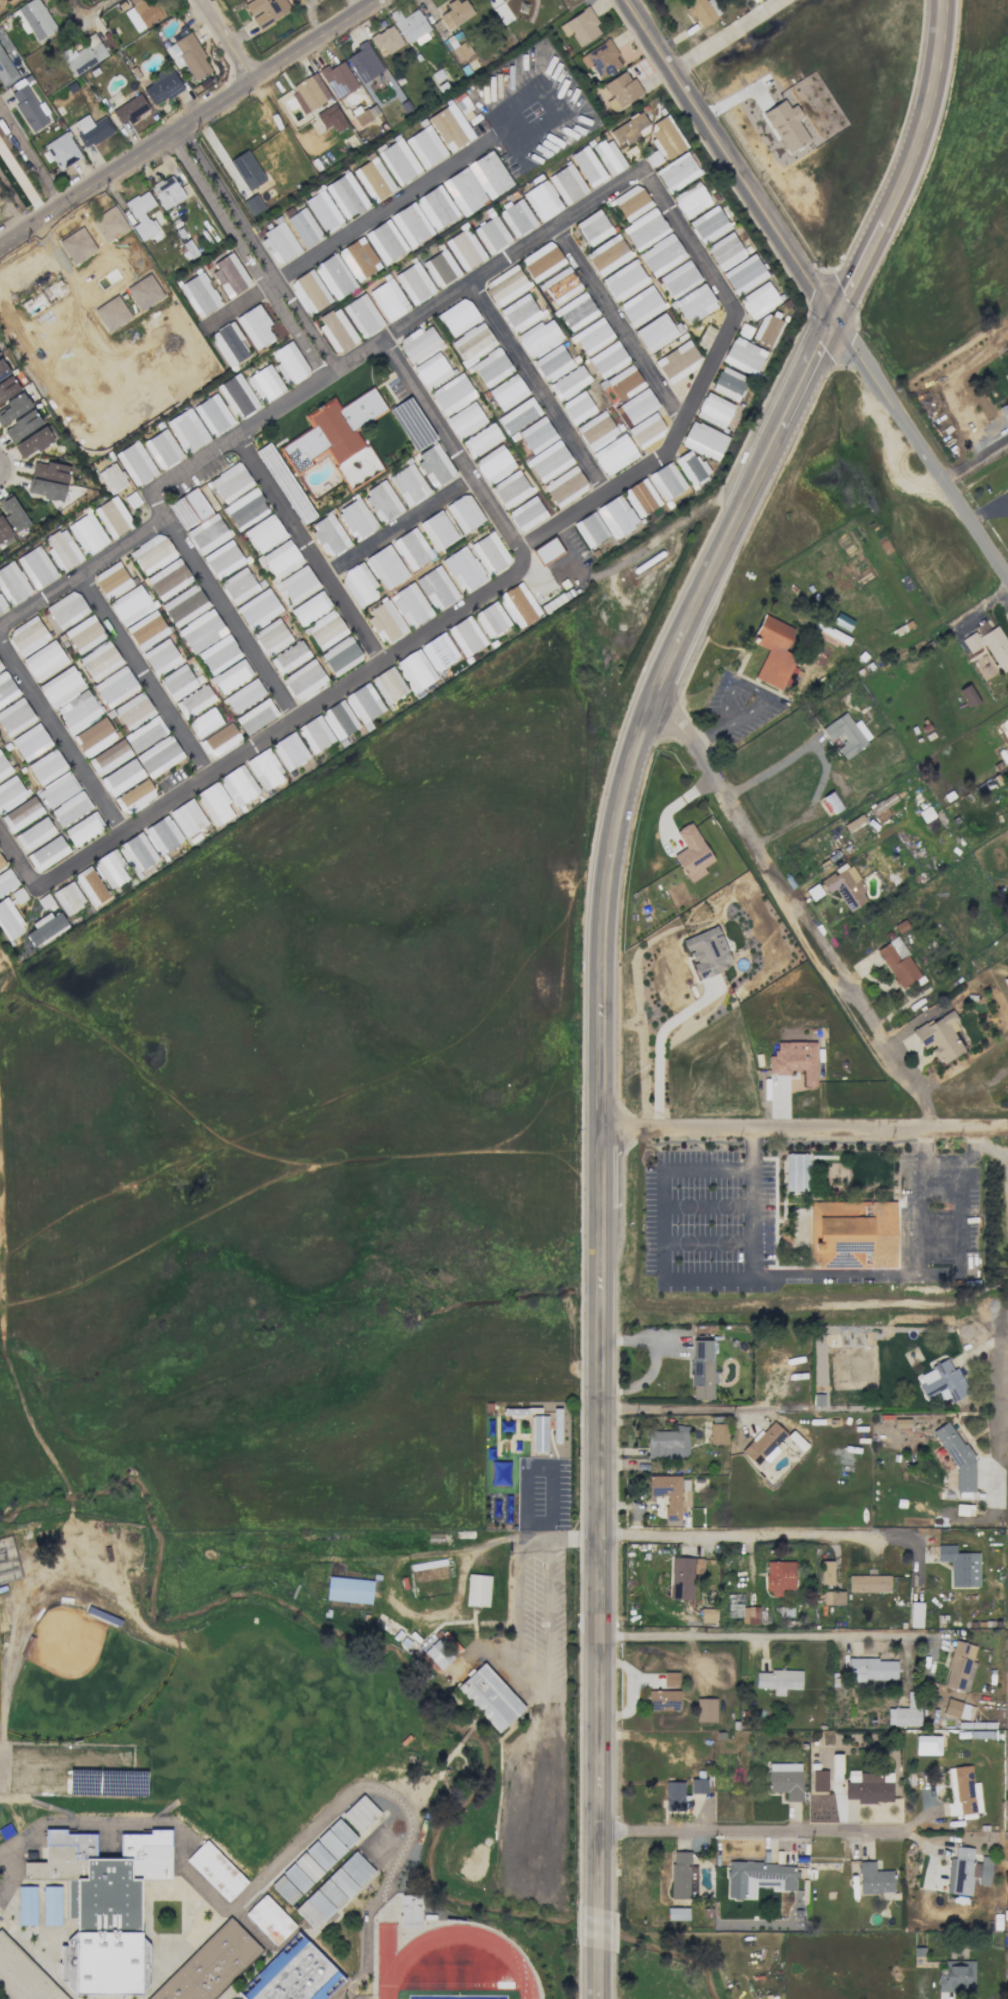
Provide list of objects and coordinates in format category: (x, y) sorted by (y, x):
road: (95, 6)
building: (265, 11)
building: (702, 11)
building: (455, 13)
building: (141, 14)
building: (36, 19)
building: (410, 25)
building: (580, 27)
road: (722, 35)
building: (386, 39)
road: (225, 40)
building: (461, 51)
building: (83, 55)
building: (188, 56)
building: (601, 59)
building: (364, 62)
building: (6, 69)
building: (338, 79)
building: (161, 87)
building: (621, 90)
building: (309, 92)
building: (28, 108)
building: (129, 109)
building: (365, 115)
building: (331, 118)
road: (186, 122)
building: (785, 125)
building: (449, 127)
building: (627, 129)
building: (92, 130)
building: (664, 141)
building: (425, 146)
building: (62, 150)
building: (608, 155)
road: (731, 159)
building: (398, 161)
road: (911, 165)
building: (586, 166)
road: (27, 170)
building: (247, 170)
building: (676, 172)
building: (489, 174)
building: (373, 179)
building: (566, 183)
building: (166, 191)
building: (463, 191)
building: (345, 195)
building: (691, 199)
building: (541, 200)
building: (631, 202)
building: (253, 204)
building: (436, 207)
building: (322, 211)
building: (141, 214)
building: (516, 217)
building: (108, 224)
building: (410, 224)
building: (708, 224)
building: (303, 227)
building: (593, 227)
building: (644, 230)
road: (349, 234)
building: (491, 234)
building: (385, 241)
building: (279, 242)
building: (77, 245)
building: (464, 249)
road: (254, 251)
building: (724, 251)
road: (34, 253)
building: (606, 254)
building: (661, 255)
building: (358, 259)
building: (541, 261)
road: (495, 267)
building: (440, 268)
building: (229, 274)
building: (744, 274)
building: (334, 276)
building: (678, 279)
building: (623, 280)
building: (413, 283)
building: (504, 285)
building: (559, 285)
building: (144, 292)
building: (309, 292)
building: (199, 294)
building: (388, 299)
building: (758, 300)
building: (694, 304)
building: (640, 306)
building: (575, 311)
building: (519, 312)
building: (111, 313)
building: (362, 315)
building: (457, 316)
road: (621, 323)
building: (254, 326)
building: (766, 329)
building: (335, 330)
road: (19, 332)
building: (655, 332)
building: (591, 336)
building: (537, 337)
building: (228, 343)
building: (418, 344)
building: (480, 355)
building: (742, 356)
building: (607, 359)
building: (677, 362)
building: (289, 363)
building: (551, 363)
building: (3, 370)
building: (431, 370)
building: (1006, 375)
building: (568, 382)
building: (265, 383)
building: (622, 383)
building: (728, 383)
road: (539, 387)
building: (7, 388)
building: (506, 392)
building: (451, 394)
building: (237, 395)
building: (637, 405)
building: (13, 407)
building: (577, 407)
building: (713, 410)
building: (1004, 410)
building: (212, 414)
building: (518, 415)
building: (465, 420)
building: (21, 426)
building: (186, 430)
building: (595, 430)
building: (646, 430)
building: (536, 434)
building: (336, 438)
building: (481, 439)
building: (703, 440)
building: (32, 442)
road: (923, 447)
building: (162, 449)
building: (614, 454)
road: (975, 456)
building: (548, 461)
building: (135, 463)
building: (493, 464)
building: (434, 465)
building: (690, 466)
building: (49, 471)
building: (111, 478)
building: (666, 481)
building: (231, 482)
building: (408, 484)
building: (565, 486)
building: (45, 489)
building: (510, 489)
building: (640, 497)
building: (381, 501)
building: (195, 504)
building: (245, 509)
building: (12, 512)
building: (464, 512)
building: (527, 513)
building: (616, 516)
building: (112, 517)
building: (356, 519)
road: (401, 526)
building: (590, 529)
building: (3, 530)
building: (437, 530)
building: (207, 533)
building: (264, 533)
building: (87, 534)
building: (328, 535)
road: (310, 549)
building: (411, 549)
building: (62, 550)
building: (547, 551)
building: (152, 553)
building: (490, 553)
building: (281, 558)
building: (223, 559)
building: (36, 567)
building: (386, 567)
building: (463, 569)
road: (85, 572)
building: (168, 579)
building: (112, 580)
building: (12, 584)
building: (298, 584)
building: (358, 584)
building: (238, 585)
building: (436, 588)
building: (130, 605)
building: (184, 605)
building: (410, 605)
building: (518, 605)
building: (1, 607)
building: (310, 608)
building: (66, 609)
building: (258, 609)
building: (491, 619)
building: (842, 621)
building: (385, 622)
building: (146, 630)
building: (325, 630)
building: (201, 631)
building: (84, 634)
building: (27, 636)
building: (271, 636)
building: (466, 636)
building: (990, 645)
building: (439, 651)
building: (774, 652)
building: (218, 654)
building: (341, 656)
building: (161, 657)
building: (289, 657)
building: (44, 660)
building: (100, 660)
building: (0, 666)
building: (415, 670)
road: (365, 674)
road: (145, 676)
building: (231, 676)
building: (304, 679)
building: (177, 682)
building: (388, 685)
building: (61, 686)
building: (115, 686)
building: (6, 689)
building: (968, 695)
building: (244, 696)
building: (194, 701)
building: (364, 703)
building: (133, 710)
building: (78, 711)
building: (256, 716)
building: (15, 717)
building: (339, 719)
building: (204, 722)
building: (145, 733)
building: (315, 734)
building: (846, 734)
road: (62, 735)
building: (94, 737)
building: (219, 740)
building: (31, 742)
building: (289, 750)
building: (159, 756)
building: (109, 757)
road: (820, 759)
building: (47, 766)
building: (3, 767)
building: (265, 769)
building: (121, 777)
building: (238, 785)
building: (58, 790)
building: (11, 793)
building: (135, 797)
building: (214, 803)
building: (829, 803)
building: (71, 808)
building: (21, 814)
building: (187, 817)
building: (84, 828)
building: (34, 833)
building: (162, 835)
building: (137, 852)
building: (47, 853)
building: (691, 853)
building: (1, 863)
building: (110, 869)
building: (7, 881)
building: (91, 886)
building: (846, 887)
building: (68, 898)
road: (799, 912)
building: (9, 920)
building: (45, 927)
building: (707, 952)
building: (897, 962)
road: (0, 975)
building: (940, 1037)
road: (658, 1046)
building: (794, 1060)
road: (806, 1127)
road: (604, 1133)
road: (925, 1145)
building: (796, 1172)
road: (704, 1203)
road: (657, 1217)
building: (852, 1234)
road: (704, 1239)
road: (898, 1274)
road: (1002, 1292)
building: (702, 1369)
road: (692, 1407)
building: (718, 1433)
building: (538, 1434)
building: (668, 1442)
building: (763, 1443)
building: (957, 1457)
building: (670, 1495)
road: (523, 1505)
road: (754, 1536)
building: (960, 1566)
building: (826, 1572)
building: (779, 1577)
building: (681, 1578)
building: (868, 1583)
building: (348, 1589)
building: (477, 1590)
building: (833, 1597)
building: (734, 1605)
building: (750, 1614)
building: (915, 1614)
building: (707, 1615)
road: (511, 1634)
road: (760, 1643)
building: (441, 1650)
building: (959, 1666)
building: (872, 1669)
park: (82, 1677)
building: (670, 1679)
building: (777, 1680)
building: (489, 1697)
building: (663, 1700)
building: (705, 1709)
building: (958, 1709)
building: (904, 1714)
building: (927, 1745)
building: (836, 1767)
road: (545, 1776)
building: (785, 1779)
building: (819, 1780)
building: (698, 1785)
building: (869, 1786)
building: (962, 1791)
building: (675, 1796)
building: (360, 1813)
building: (342, 1832)
road: (753, 1832)
building: (330, 1844)
building: (319, 1855)
building: (307, 1866)
building: (215, 1870)
building: (966, 1871)
building: (350, 1874)
building: (681, 1875)
building: (296, 1877)
building: (758, 1878)
building: (874, 1880)
building: (285, 1889)
building: (331, 1892)
building: (26, 1905)
building: (51, 1905)
building: (314, 1909)
building: (269, 1919)
building: (106, 1933)
track: (394, 1964)
building: (213, 1966)
building: (23, 1976)
building: (294, 1976)
building: (956, 1977)
park: (458, 1996)

